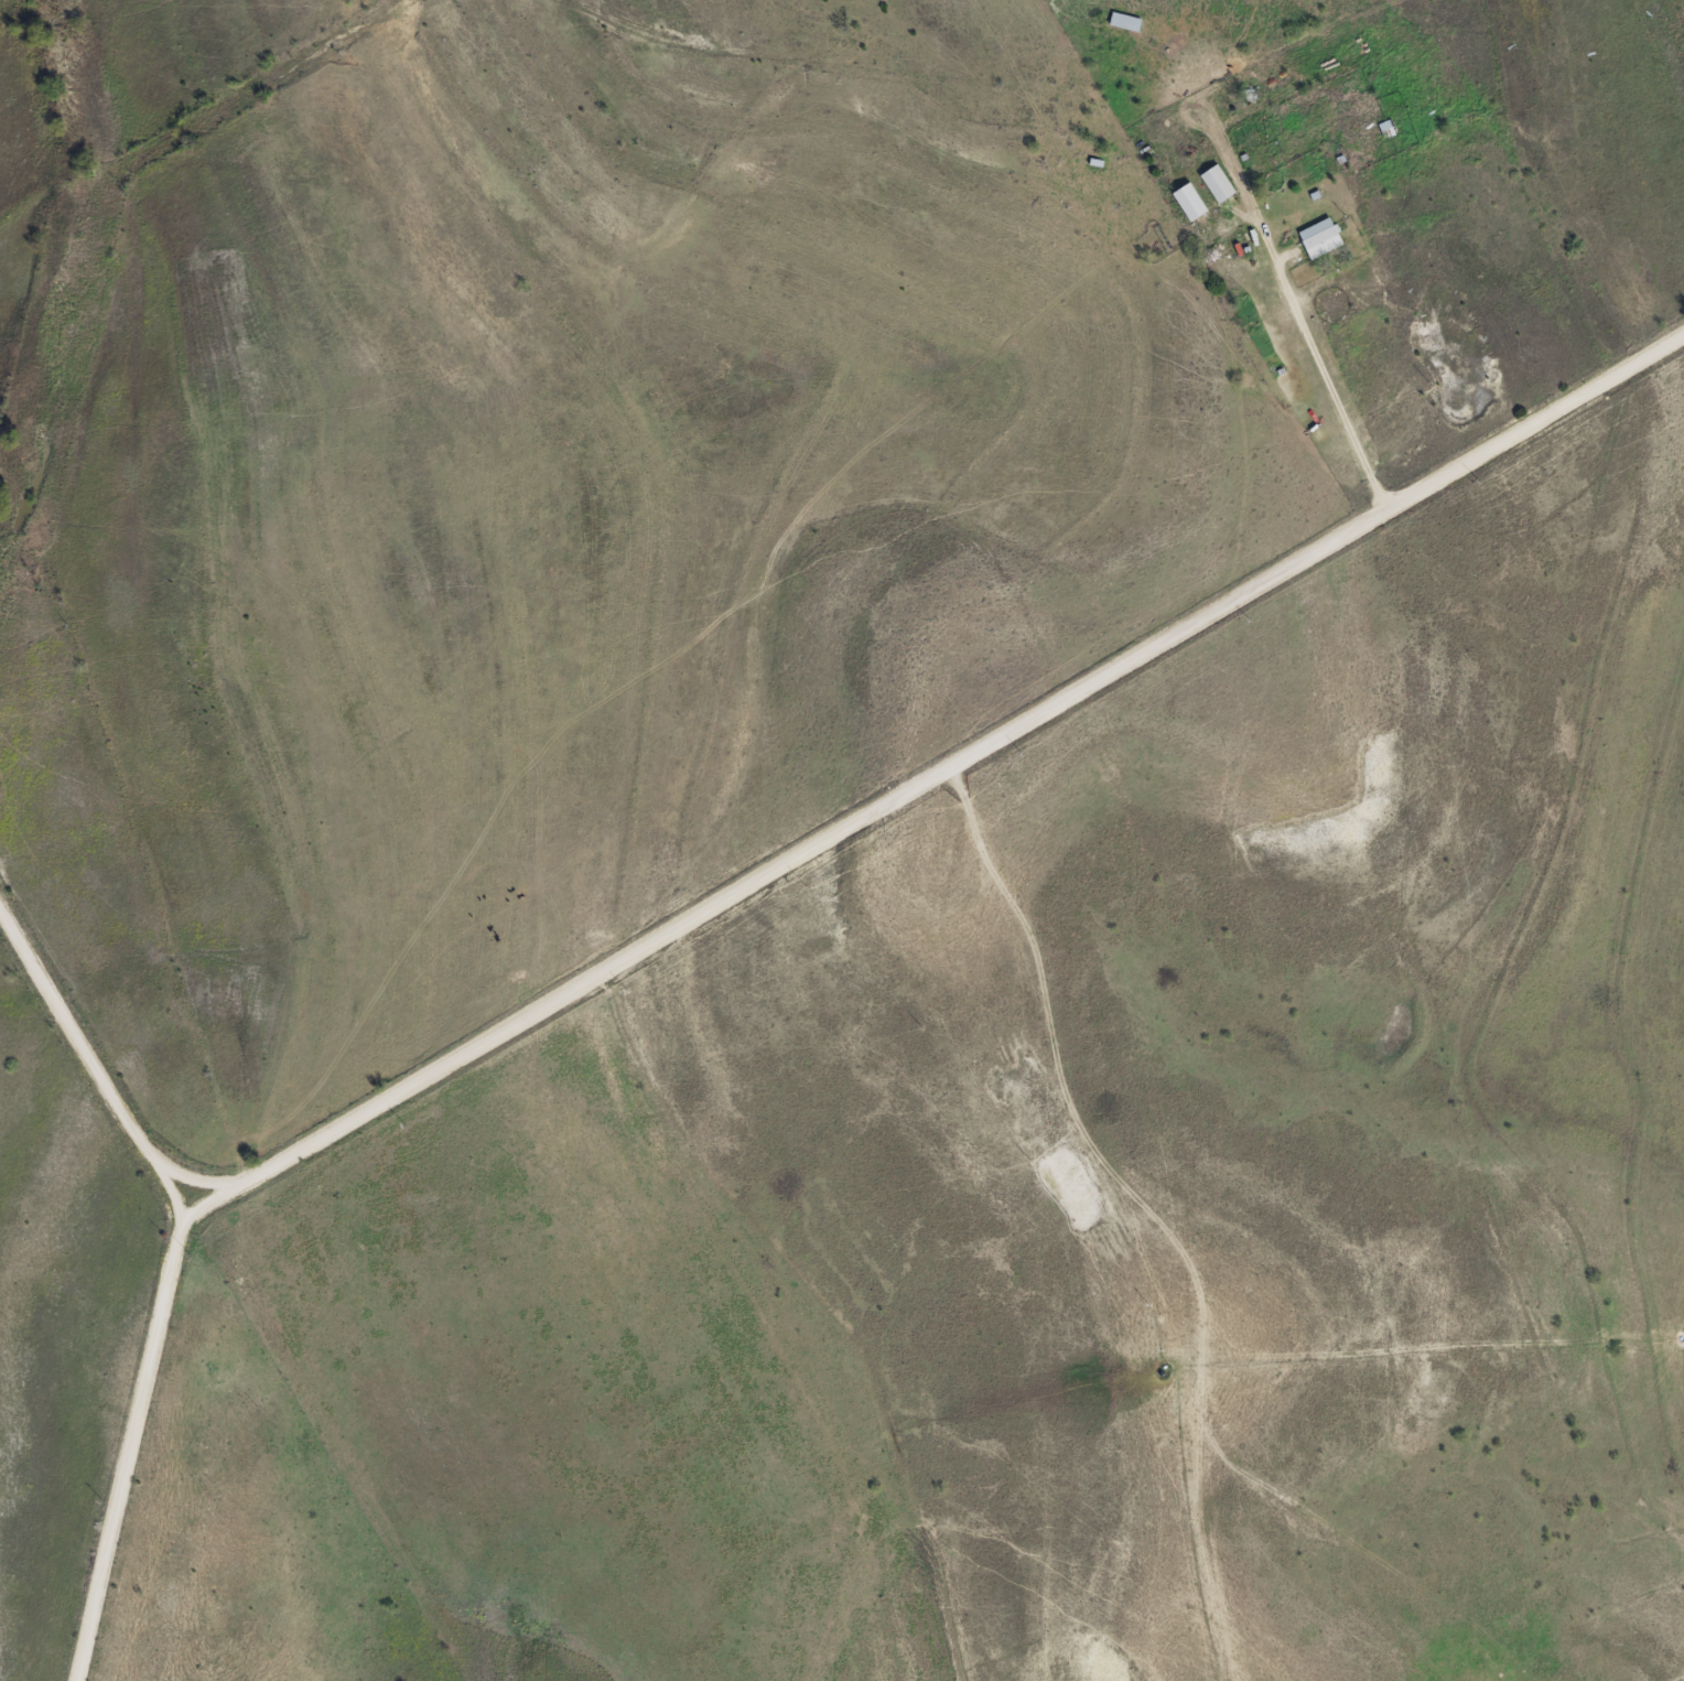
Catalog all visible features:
building: (1126, 24)
building: (1389, 130)
building: (1219, 185)
building: (1190, 204)
building: (1320, 240)
road: (930, 782)
road: (88, 1075)
road: (126, 1453)

